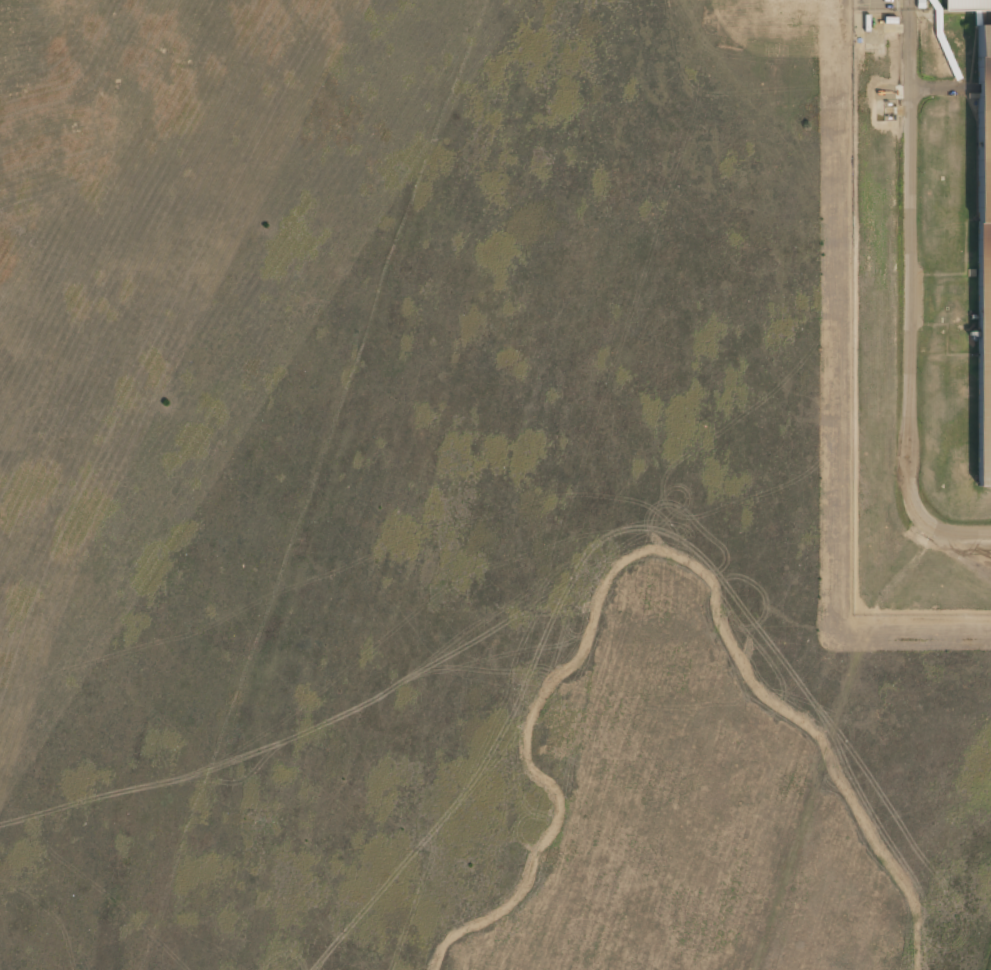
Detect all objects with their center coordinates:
building: (967, 4)
building: (984, 254)
road: (908, 298)

